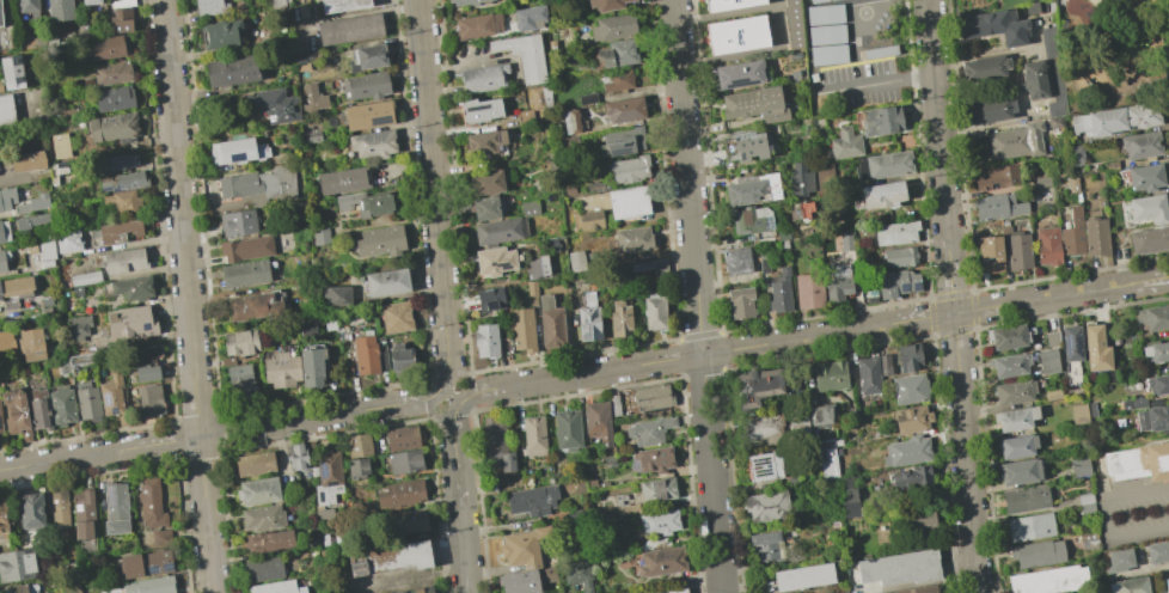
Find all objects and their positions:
building: (90, 1)
building: (464, 1)
building: (815, 1)
road: (926, 1)
building: (121, 2)
building: (276, 4)
building: (605, 4)
building: (728, 4)
building: (341, 5)
building: (26, 6)
building: (207, 7)
building: (60, 10)
road: (729, 12)
building: (824, 14)
building: (0, 16)
building: (528, 17)
building: (120, 20)
building: (792, 24)
building: (477, 25)
road: (778, 25)
building: (993, 26)
building: (348, 27)
building: (613, 27)
building: (826, 33)
building: (221, 35)
building: (735, 35)
building: (1047, 42)
building: (106, 47)
building: (880, 51)
building: (619, 53)
building: (827, 53)
building: (524, 55)
building: (366, 56)
building: (983, 68)
building: (232, 71)
building: (11, 72)
building: (111, 72)
building: (737, 74)
building: (483, 78)
building: (614, 80)
building: (1033, 80)
road: (876, 84)
building: (366, 85)
building: (114, 98)
building: (312, 98)
building: (535, 98)
building: (586, 98)
building: (271, 104)
building: (754, 105)
building: (6, 109)
building: (624, 109)
building: (987, 109)
building: (479, 110)
building: (1142, 114)
building: (368, 115)
building: (525, 117)
building: (881, 120)
building: (571, 121)
building: (1098, 121)
building: (1055, 122)
road: (985, 123)
building: (112, 127)
building: (311, 136)
rooftop solar panel: (608, 140)
building: (624, 141)
building: (1011, 141)
building: (484, 142)
building: (845, 142)
building: (373, 143)
building: (59, 145)
building: (1140, 145)
building: (743, 146)
building: (232, 151)
building: (1076, 154)
road: (940, 158)
rooftop solar panel: (239, 159)
building: (26, 161)
building: (118, 161)
building: (883, 164)
building: (629, 169)
building: (55, 172)
building: (824, 172)
building: (996, 177)
building: (1145, 177)
building: (801, 178)
building: (341, 181)
building: (124, 182)
building: (485, 182)
building: (1077, 184)
building: (259, 185)
building: (594, 187)
building: (752, 188)
building: (569, 190)
building: (881, 194)
road: (434, 195)
building: (6, 197)
building: (121, 201)
building: (616, 201)
building: (32, 203)
building: (365, 203)
building: (997, 207)
building: (485, 208)
building: (530, 208)
building: (1147, 208)
building: (802, 209)
building: (589, 219)
building: (31, 220)
building: (751, 221)
building: (237, 222)
building: (498, 230)
building: (118, 231)
building: (894, 232)
building: (1072, 233)
building: (1, 234)
building: (319, 236)
building: (1095, 237)
building: (634, 239)
building: (1149, 239)
building: (71, 240)
building: (380, 242)
building: (845, 243)
building: (1047, 246)
building: (245, 247)
building: (31, 249)
building: (1018, 251)
building: (47, 253)
building: (989, 253)
building: (898, 256)
building: (4, 258)
building: (122, 261)
building: (494, 261)
building: (576, 261)
building: (736, 261)
building: (650, 267)
building: (537, 268)
building: (244, 273)
building: (84, 277)
road: (1155, 280)
building: (385, 282)
building: (895, 282)
building: (837, 283)
rooftop solar panel: (917, 286)
building: (131, 287)
building: (531, 287)
rooftop solar panel: (904, 287)
building: (14, 291)
building: (76, 291)
building: (808, 291)
building: (869, 291)
building: (779, 292)
building: (337, 295)
road: (697, 295)
road: (188, 296)
road: (1047, 298)
building: (490, 299)
building: (44, 301)
building: (739, 302)
building: (253, 306)
building: (44, 310)
building: (654, 311)
building: (394, 316)
building: (588, 318)
building: (619, 319)
building: (1156, 322)
building: (129, 323)
building: (550, 323)
building: (76, 326)
rooftop solar panel: (146, 326)
building: (307, 328)
building: (521, 330)
rooftop solar panel: (589, 332)
building: (484, 340)
building: (6, 341)
building: (239, 342)
building: (1014, 342)
rooftop solar panel: (1069, 343)
building: (31, 344)
rooftop solar panel: (1078, 344)
building: (1078, 348)
building: (1103, 351)
building: (365, 354)
road: (704, 354)
building: (907, 357)
building: (79, 361)
building: (227, 361)
building: (400, 361)
building: (1047, 361)
building: (1155, 361)
building: (146, 363)
building: (63, 365)
building: (885, 365)
building: (311, 366)
building: (1054, 367)
building: (281, 369)
building: (1016, 369)
building: (830, 374)
building: (867, 374)
building: (239, 380)
building: (755, 386)
building: (1161, 389)
building: (908, 390)
building: (1052, 393)
road: (449, 397)
building: (651, 397)
building: (112, 398)
building: (1021, 398)
rooftop solar panel: (106, 399)
building: (87, 401)
building: (149, 401)
building: (61, 405)
building: (1137, 406)
building: (38, 409)
building: (16, 412)
building: (1078, 414)
building: (820, 415)
building: (911, 418)
building: (596, 421)
building: (1155, 423)
building: (0, 424)
building: (1022, 424)
building: (761, 427)
building: (567, 429)
building: (649, 430)
building: (798, 430)
road: (221, 433)
building: (533, 435)
building: (400, 439)
building: (497, 444)
building: (359, 445)
building: (908, 451)
building: (1023, 451)
rooftop solar panel: (822, 452)
road: (965, 453)
building: (295, 456)
building: (826, 457)
building: (653, 459)
building: (404, 460)
building: (253, 463)
building: (1078, 465)
building: (764, 466)
rooftop solar panel: (769, 466)
building: (1142, 466)
building: (357, 469)
rooftop solar panel: (322, 472)
building: (326, 477)
building: (911, 477)
building: (1028, 477)
building: (846, 482)
building: (657, 489)
building: (257, 490)
building: (398, 493)
rooftop solar panel: (110, 497)
road: (459, 499)
building: (532, 500)
building: (149, 502)
building: (847, 502)
building: (1033, 502)
building: (766, 507)
building: (1089, 507)
building: (115, 508)
building: (57, 509)
building: (31, 512)
building: (82, 513)
road: (1108, 514)
building: (263, 518)
building: (918, 518)
building: (408, 520)
building: (4, 521)
building: (659, 521)
building: (1036, 531)
building: (160, 537)
building: (883, 539)
building: (268, 542)
building: (1091, 544)
building: (766, 545)
building: (524, 546)
building: (1159, 556)
building: (388, 557)
building: (1043, 557)
building: (661, 561)
building: (145, 563)
building: (17, 564)
building: (899, 567)
building: (1122, 567)
rooftop solar panel: (167, 568)
building: (263, 568)
rooftop solar panel: (152, 569)
building: (577, 574)
building: (802, 575)
building: (518, 582)
building: (1057, 582)
building: (149, 585)
building: (1167, 585)
building: (1134, 586)
building: (276, 587)
building: (22, 588)
rooftop solar panel: (265, 589)
building: (918, 589)
building: (418, 591)
building: (671, 591)

